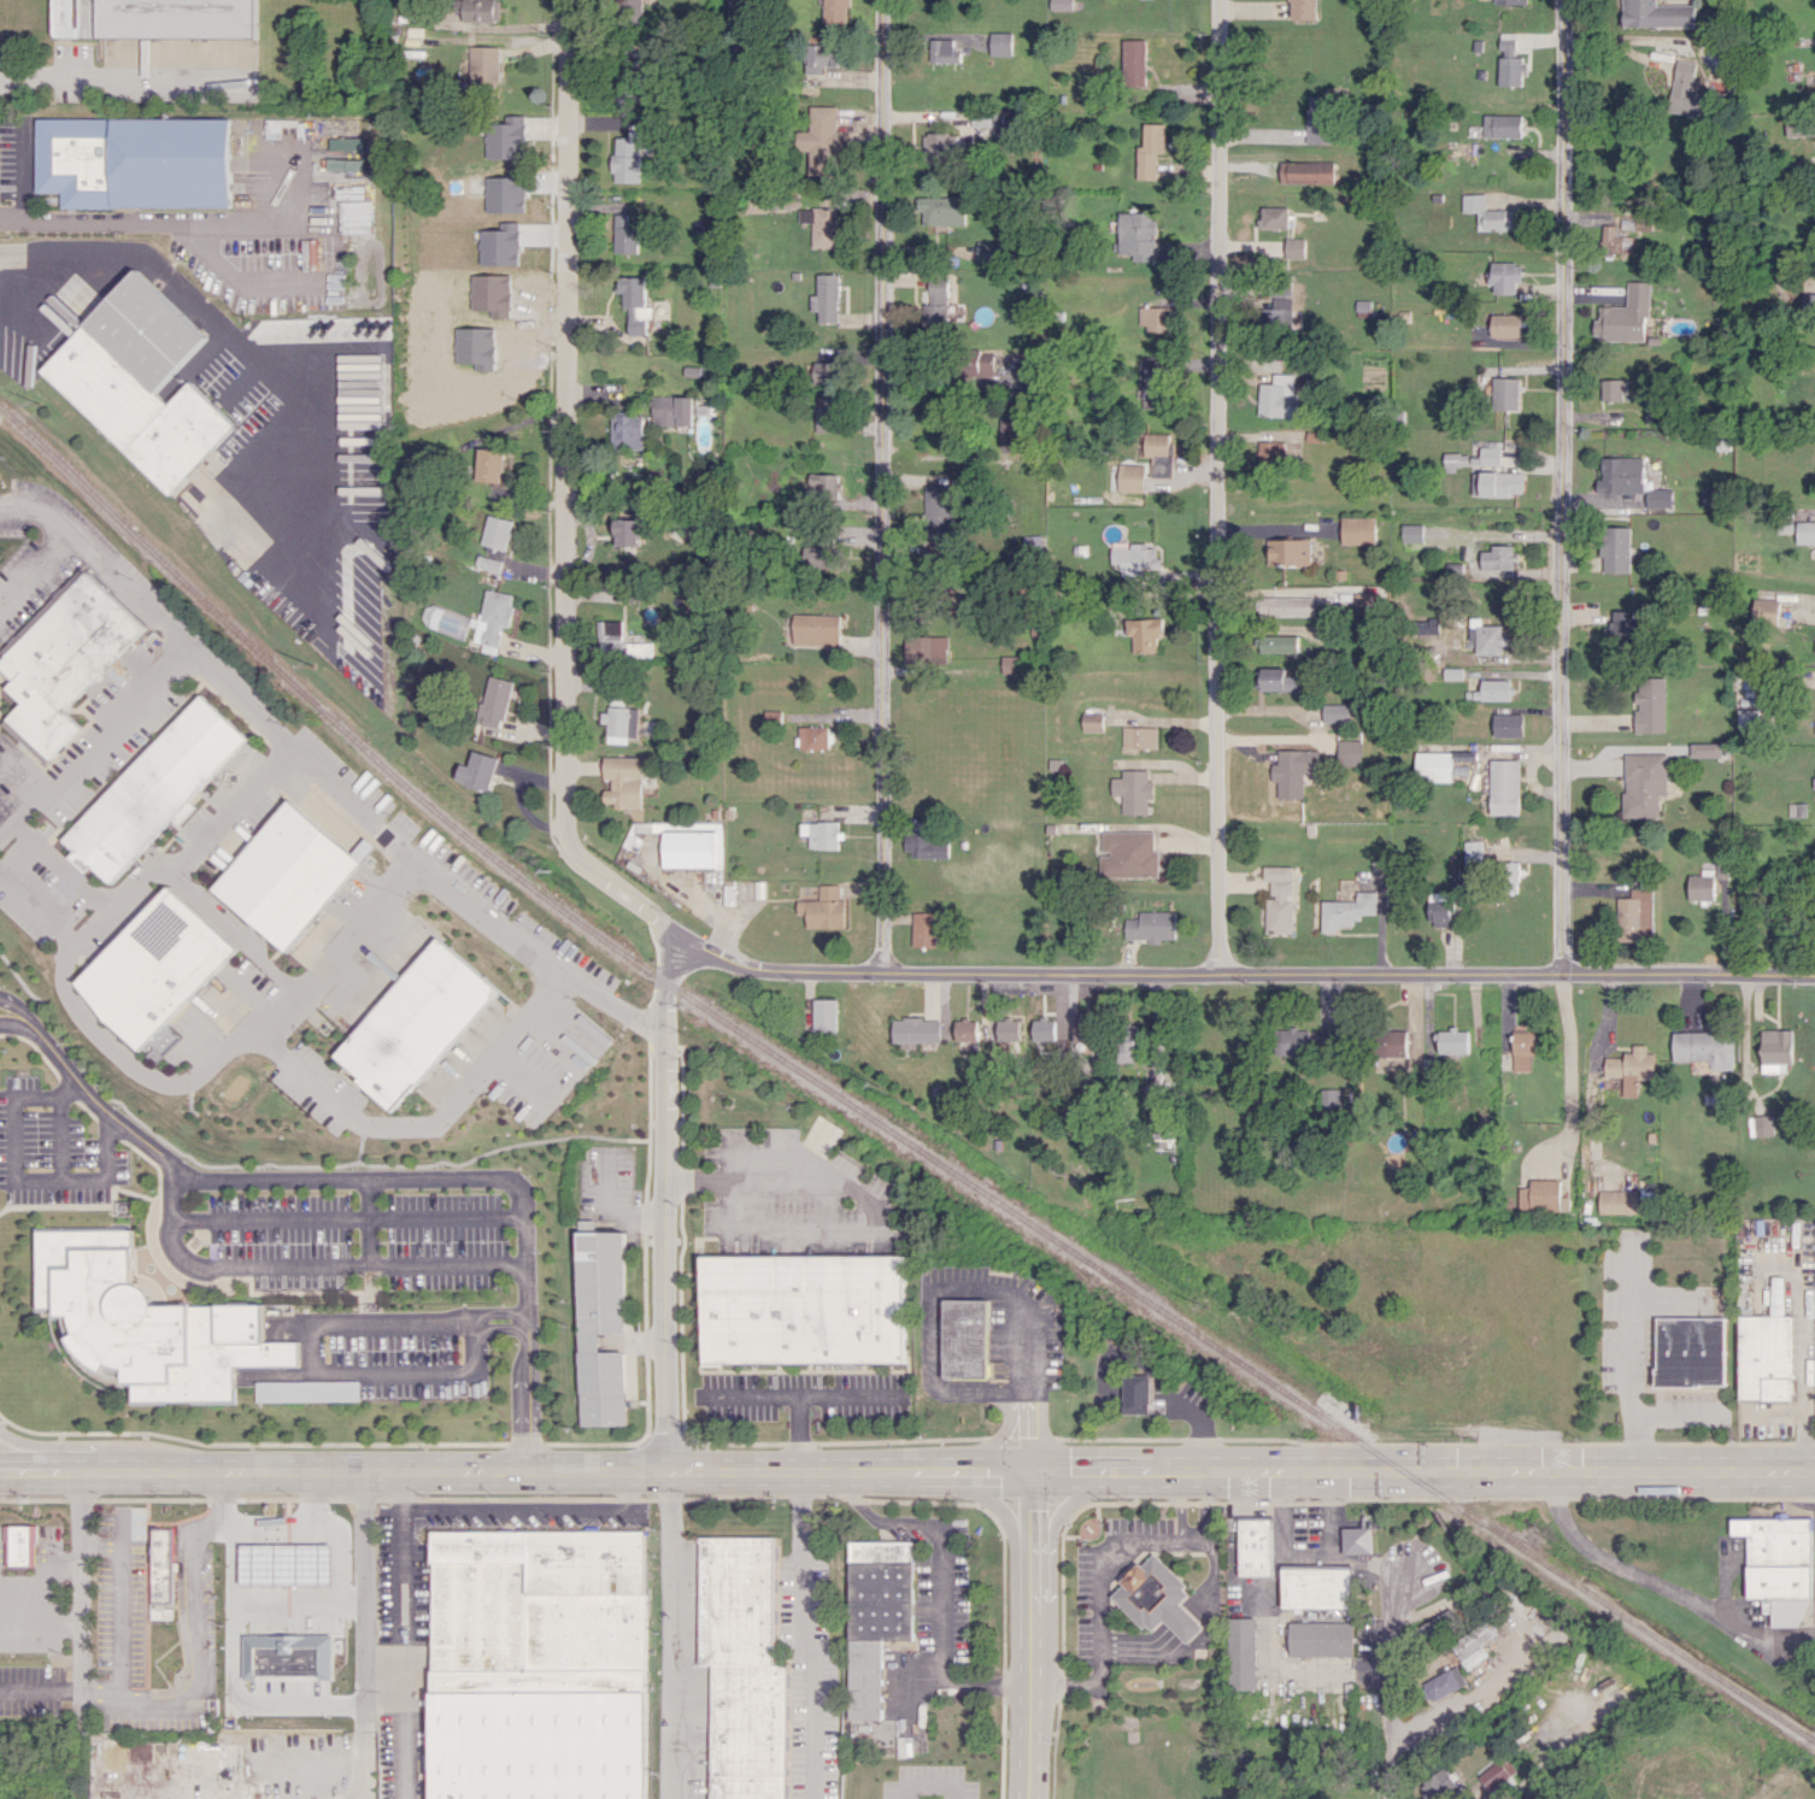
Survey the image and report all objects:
building: (1509, 1)
building: (1061, 4)
building: (633, 5)
building: (1300, 10)
building: (480, 11)
building: (835, 11)
building: (1655, 13)
building: (149, 18)
building: (1000, 43)
building: (944, 51)
building: (821, 57)
building: (1506, 61)
building: (1134, 63)
building: (484, 66)
road: (122, 78)
building: (1685, 92)
building: (628, 93)
building: (1320, 118)
building: (1499, 125)
building: (1795, 125)
building: (822, 141)
building: (939, 146)
building: (1149, 149)
building: (351, 154)
building: (625, 159)
building: (130, 160)
road: (20, 171)
building: (1306, 171)
building: (942, 210)
building: (1485, 213)
building: (1274, 217)
road: (155, 223)
building: (822, 225)
building: (1135, 234)
building: (625, 235)
building: (1611, 240)
building: (1279, 248)
building: (992, 251)
building: (1503, 276)
road: (174, 283)
building: (827, 299)
building: (1807, 301)
building: (635, 302)
building: (935, 305)
building: (1277, 312)
building: (1622, 316)
building: (1153, 318)
building: (1503, 325)
building: (1522, 325)
building: (983, 365)
building: (828, 371)
building: (1153, 376)
building: (140, 381)
building: (1285, 382)
building: (1611, 389)
building: (1503, 393)
building: (1275, 401)
building: (675, 410)
building: (829, 413)
building: (627, 430)
building: (1009, 431)
building: (1157, 452)
building: (1269, 452)
building: (492, 463)
building: (1620, 475)
building: (1493, 476)
building: (1130, 477)
road: (880, 484)
road: (1215, 486)
building: (826, 487)
road: (1567, 487)
road: (562, 494)
building: (1657, 498)
building: (940, 510)
building: (1357, 530)
building: (499, 531)
building: (628, 531)
building: (1804, 531)
building: (1411, 533)
building: (1615, 548)
building: (1288, 551)
building: (1134, 558)
building: (1498, 558)
road: (100, 559)
road: (31, 564)
building: (1288, 602)
building: (1764, 611)
building: (494, 619)
building: (447, 621)
building: (1427, 627)
building: (1626, 628)
building: (818, 629)
building: (1146, 634)
building: (1487, 637)
building: (1279, 643)
building: (928, 648)
building: (64, 660)
building: (1012, 664)
building: (1277, 680)
building: (1496, 689)
building: (495, 702)
building: (1651, 705)
building: (1335, 712)
building: (1745, 717)
building: (622, 722)
building: (1094, 722)
building: (1508, 725)
building: (815, 736)
building: (1140, 736)
building: (1704, 749)
building: (1349, 752)
road: (2, 757)
building: (1433, 766)
building: (1462, 768)
building: (477, 770)
building: (1292, 770)
building: (624, 781)
building: (1644, 783)
building: (157, 787)
building: (1504, 787)
building: (1134, 790)
road: (229, 807)
building: (821, 834)
building: (923, 842)
building: (693, 846)
building: (1129, 854)
road: (172, 869)
building: (286, 875)
building: (1710, 883)
building: (1277, 899)
building: (1438, 907)
building: (822, 909)
building: (1346, 910)
building: (1634, 916)
building: (1150, 925)
road: (352, 927)
building: (923, 929)
building: (155, 968)
road: (1244, 971)
road: (541, 994)
road: (607, 1000)
building: (824, 1015)
building: (416, 1022)
building: (1083, 1027)
building: (915, 1029)
building: (965, 1029)
building: (1006, 1029)
building: (1452, 1041)
building: (1392, 1043)
building: (1127, 1045)
building: (1702, 1046)
building: (1521, 1050)
building: (1775, 1051)
road: (1566, 1063)
building: (1629, 1068)
building: (1331, 1098)
railway: (870, 1119)
building: (1760, 1125)
road: (371, 1175)
road: (24, 1176)
building: (1541, 1195)
building: (1620, 1201)
road: (665, 1204)
road: (867, 1204)
building: (127, 1207)
road: (310, 1265)
building: (806, 1309)
building: (145, 1324)
building: (601, 1324)
building: (970, 1338)
road: (315, 1344)
road: (934, 1346)
building: (1690, 1351)
building: (1766, 1357)
road: (1633, 1363)
building: (309, 1391)
building: (1138, 1393)
road: (806, 1394)
road: (1680, 1412)
road: (799, 1433)
road: (995, 1439)
road: (1422, 1470)
road: (516, 1471)
traffic signals: (1032, 1471)
road: (529, 1506)
road: (1182, 1506)
road: (1204, 1506)
building: (1358, 1540)
building: (34, 1544)
building: (1256, 1546)
gas station: (274, 1552)
building: (264, 1560)
building: (174, 1564)
building: (1778, 1566)
building: (160, 1574)
road: (360, 1580)
road: (78, 1582)
road: (940, 1583)
road: (337, 1586)
road: (1667, 1586)
building: (1316, 1587)
road: (403, 1589)
building: (1157, 1598)
road: (118, 1600)
road: (1105, 1609)
building: (876, 1616)
building: (1439, 1624)
road: (1029, 1634)
road: (676, 1635)
road: (806, 1635)
building: (1320, 1639)
road: (302, 1641)
building: (1473, 1645)
building: (1243, 1653)
building: (539, 1665)
building: (742, 1666)
road: (200, 1668)
building: (290, 1683)
building: (1444, 1683)
road: (1400, 1697)
road: (363, 1719)
building: (870, 1734)
road: (398, 1736)
building: (1499, 1776)
building: (1439, 1783)
road: (930, 1787)
road: (356, 1797)

